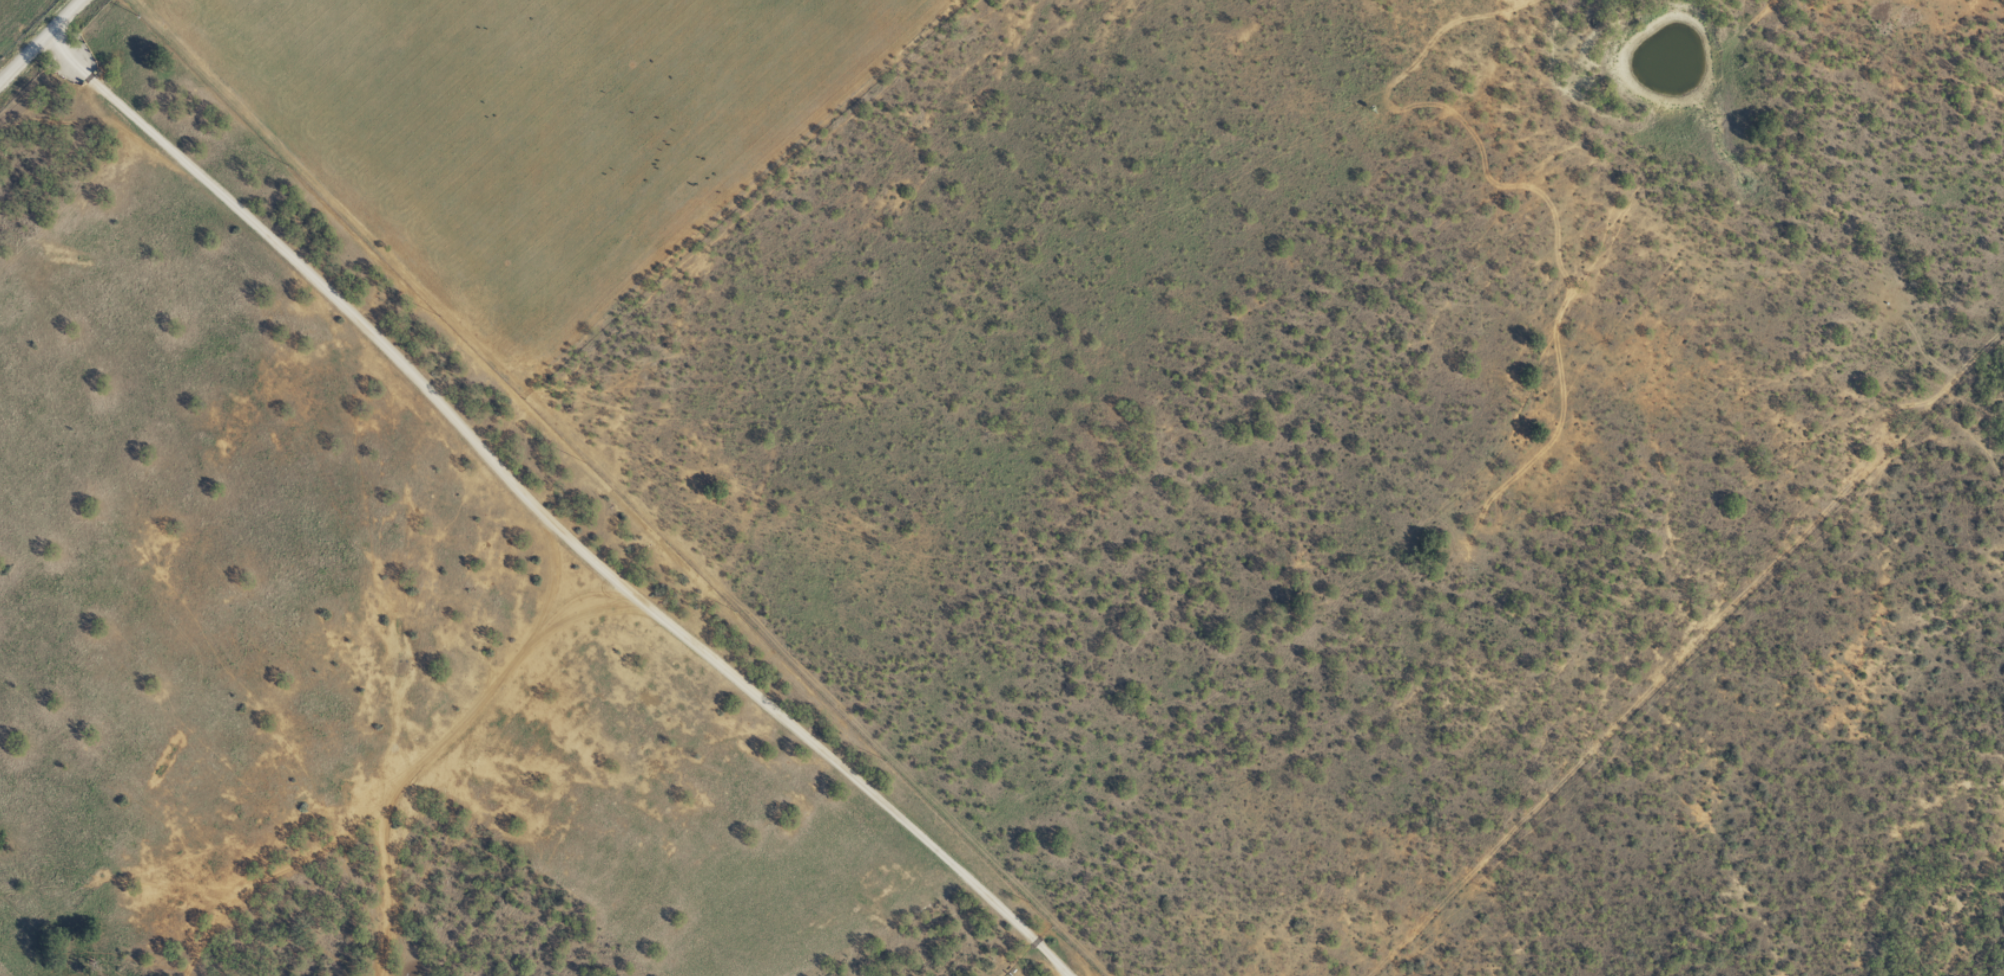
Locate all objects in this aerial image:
road: (40, 49)
road: (534, 519)

